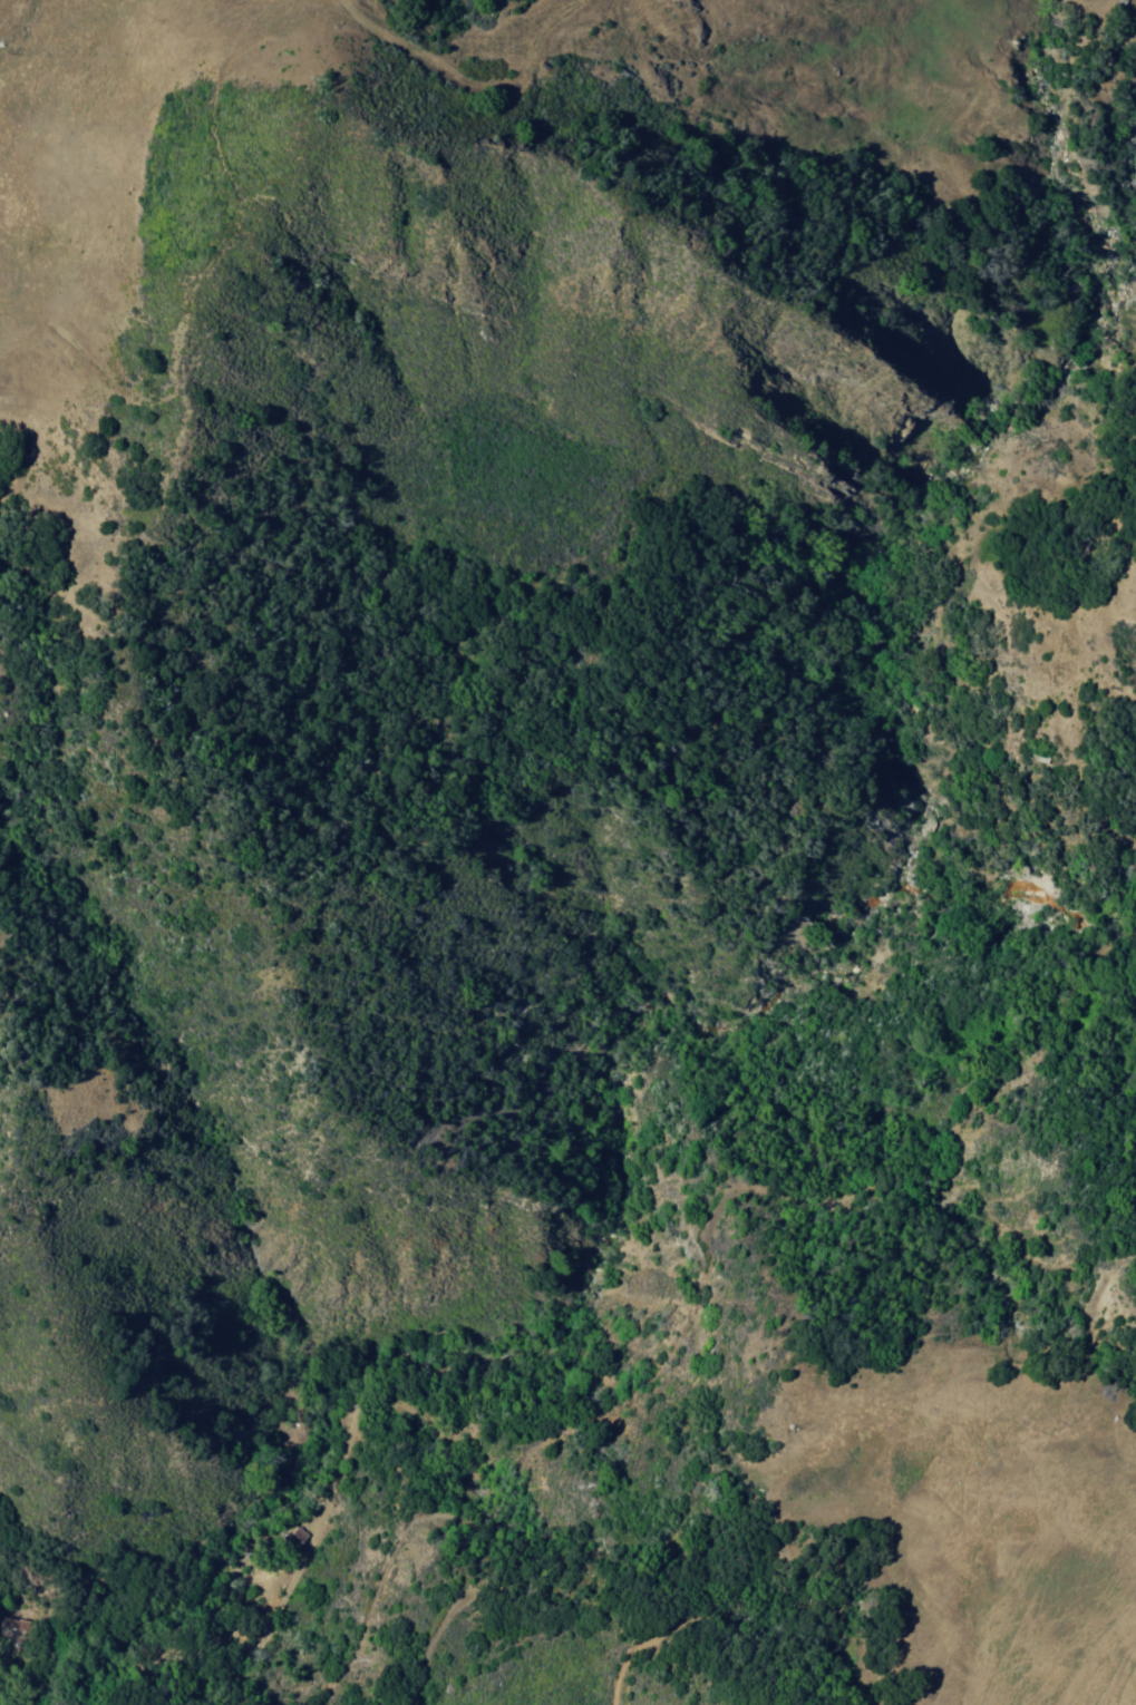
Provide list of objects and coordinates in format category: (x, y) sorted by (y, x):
building: (295, 1536)
building: (303, 1537)
building: (23, 1626)
road: (631, 1658)

